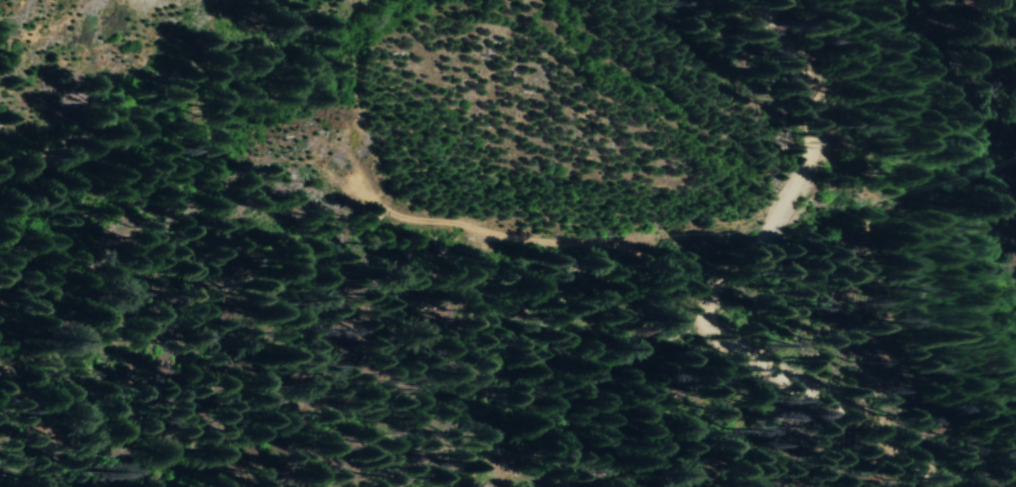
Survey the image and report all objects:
road: (743, 260)

